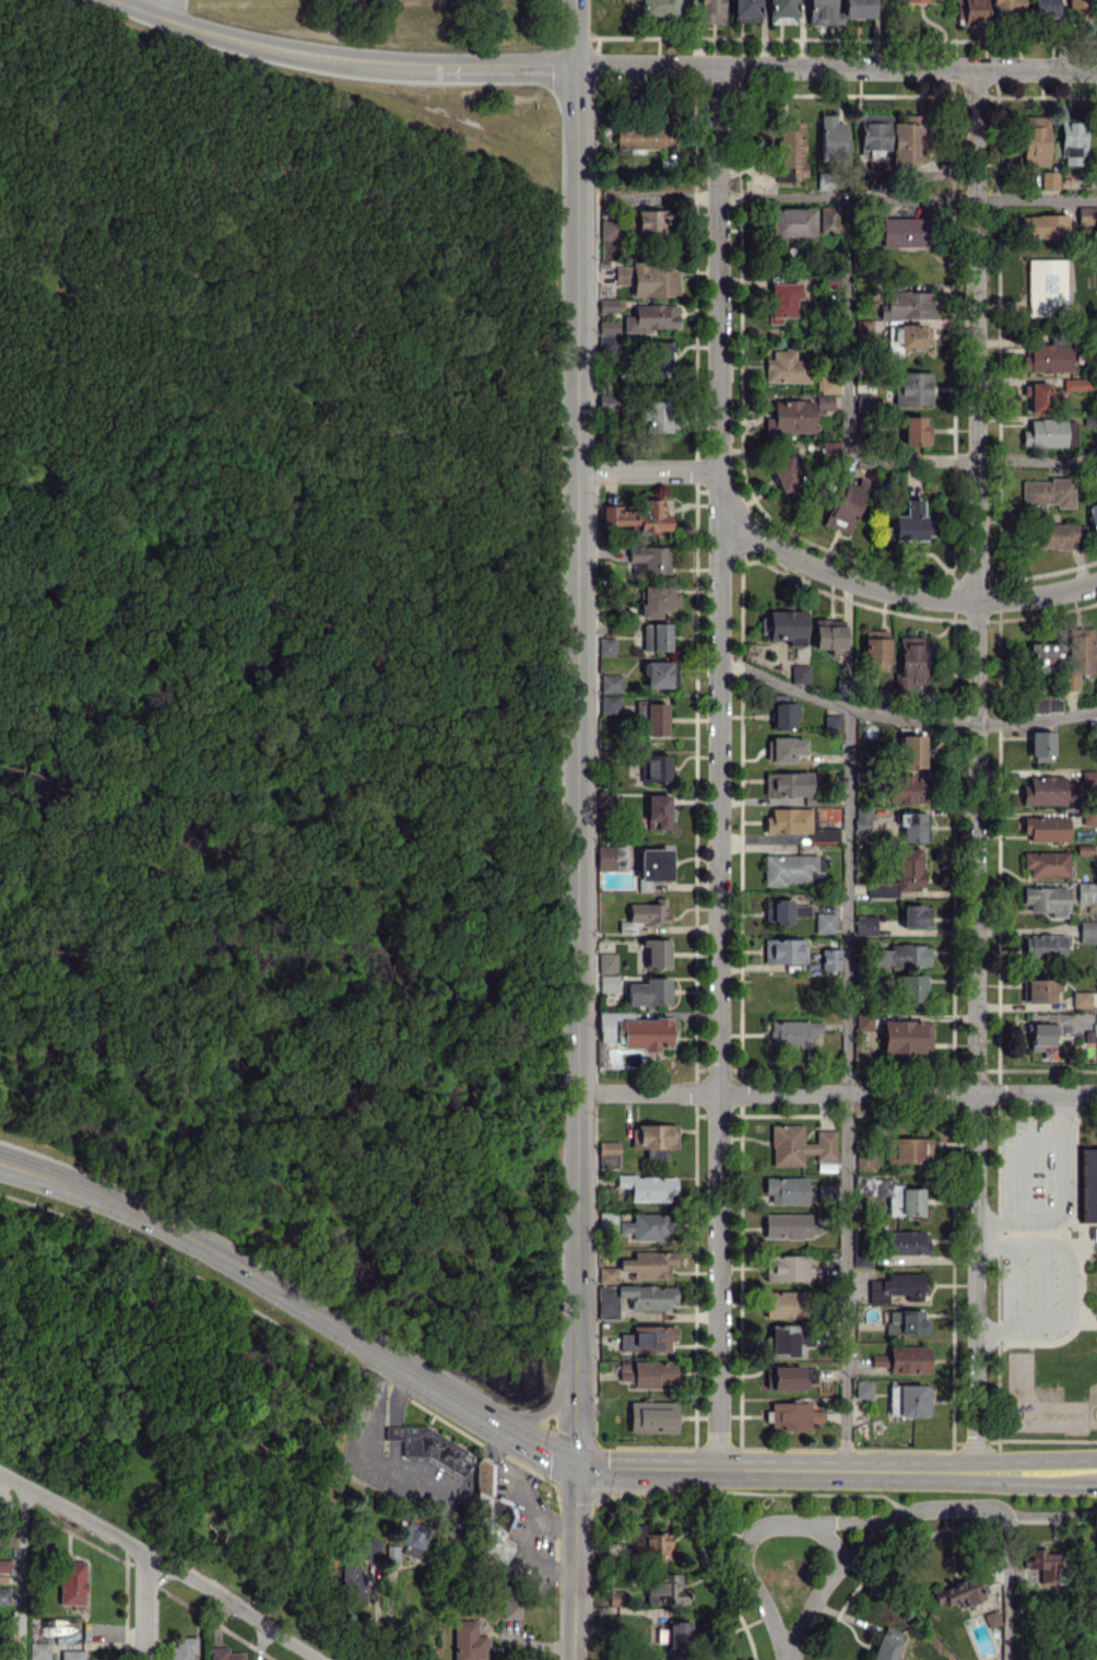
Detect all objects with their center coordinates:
building: (907, 0)
building: (1007, 4)
road: (145, 5)
building: (857, 8)
building: (1045, 8)
building: (1077, 8)
building: (710, 11)
building: (745, 11)
building: (781, 11)
building: (970, 11)
building: (823, 12)
road: (575, 33)
road: (340, 62)
road: (835, 67)
building: (644, 135)
building: (873, 135)
building: (830, 137)
building: (909, 139)
building: (1034, 140)
building: (1071, 141)
building: (791, 149)
building: (1048, 179)
road: (907, 197)
building: (828, 218)
building: (650, 221)
building: (790, 222)
building: (1042, 225)
building: (609, 229)
building: (904, 232)
building: (649, 278)
building: (1047, 285)
building: (781, 300)
building: (907, 304)
building: (606, 305)
building: (650, 317)
road: (845, 317)
building: (608, 326)
building: (907, 336)
building: (608, 343)
building: (658, 358)
building: (1047, 358)
building: (785, 367)
building: (827, 383)
building: (1077, 383)
building: (1041, 397)
building: (606, 400)
building: (823, 402)
building: (863, 402)
building: (659, 416)
building: (789, 418)
building: (916, 431)
building: (1049, 432)
road: (858, 447)
building: (829, 449)
road: (1087, 449)
road: (974, 458)
road: (646, 468)
building: (783, 474)
building: (1047, 492)
building: (842, 505)
building: (1093, 515)
building: (637, 516)
building: (907, 522)
building: (1059, 535)
building: (649, 559)
road: (899, 593)
building: (657, 599)
building: (783, 623)
building: (827, 633)
building: (654, 636)
building: (606, 645)
building: (874, 647)
building: (1078, 655)
building: (1042, 656)
building: (910, 661)
building: (659, 674)
building: (799, 674)
building: (611, 682)
building: (842, 687)
building: (884, 695)
building: (1047, 703)
building: (609, 704)
building: (780, 713)
building: (652, 716)
road: (903, 716)
building: (830, 721)
building: (1040, 746)
building: (909, 748)
building: (783, 749)
road: (576, 763)
road: (718, 765)
building: (654, 767)
road: (976, 767)
building: (1087, 776)
building: (787, 783)
building: (907, 788)
building: (1049, 791)
building: (605, 800)
building: (657, 811)
building: (862, 817)
building: (1089, 817)
building: (797, 825)
building: (913, 827)
building: (1046, 828)
building: (611, 857)
building: (1046, 863)
building: (652, 866)
building: (792, 868)
building: (900, 874)
building: (1085, 891)
building: (1047, 899)
building: (647, 911)
building: (783, 911)
building: (915, 915)
building: (825, 922)
building: (864, 925)
building: (1087, 930)
building: (1045, 947)
building: (785, 950)
building: (656, 954)
building: (903, 955)
building: (829, 959)
building: (606, 962)
building: (608, 983)
building: (909, 990)
building: (1039, 990)
building: (648, 992)
building: (1081, 998)
building: (863, 1020)
building: (792, 1032)
building: (1041, 1034)
building: (903, 1036)
road: (847, 1085)
road: (836, 1092)
building: (654, 1138)
building: (799, 1145)
building: (908, 1149)
building: (608, 1154)
building: (864, 1161)
parking lot: (1035, 1170)
building: (1088, 1185)
building: (647, 1186)
building: (786, 1189)
building: (825, 1192)
building: (890, 1194)
road: (1063, 1197)
building: (606, 1221)
building: (648, 1226)
building: (789, 1226)
building: (1094, 1234)
building: (907, 1242)
building: (649, 1263)
building: (787, 1267)
building: (606, 1274)
road: (1067, 1285)
parking lot: (1035, 1286)
building: (897, 1287)
building: (634, 1298)
road: (290, 1302)
building: (785, 1304)
building: (906, 1321)
building: (647, 1337)
building: (783, 1341)
building: (904, 1358)
building: (647, 1372)
building: (789, 1377)
building: (862, 1388)
building: (909, 1400)
road: (541, 1408)
building: (792, 1415)
building: (652, 1416)
building: (428, 1446)
road: (368, 1458)
traffic signals: (574, 1461)
road: (835, 1466)
building: (491, 1515)
road: (758, 1527)
building: (5, 1538)
road: (872, 1538)
building: (414, 1542)
road: (830, 1542)
building: (654, 1545)
building: (391, 1553)
road: (570, 1560)
road: (158, 1564)
building: (357, 1564)
building: (1043, 1564)
building: (4, 1565)
road: (22, 1574)
building: (71, 1582)
building: (665, 1589)
road: (1006, 1591)
building: (957, 1592)
building: (616, 1598)
road: (146, 1609)
building: (510, 1609)
road: (375, 1615)
road: (387, 1616)
building: (991, 1618)
building: (661, 1635)
building: (677, 1639)
building: (468, 1641)
building: (182, 1648)
building: (884, 1648)
building: (38, 1650)
building: (224, 1653)
building: (73, 1655)

